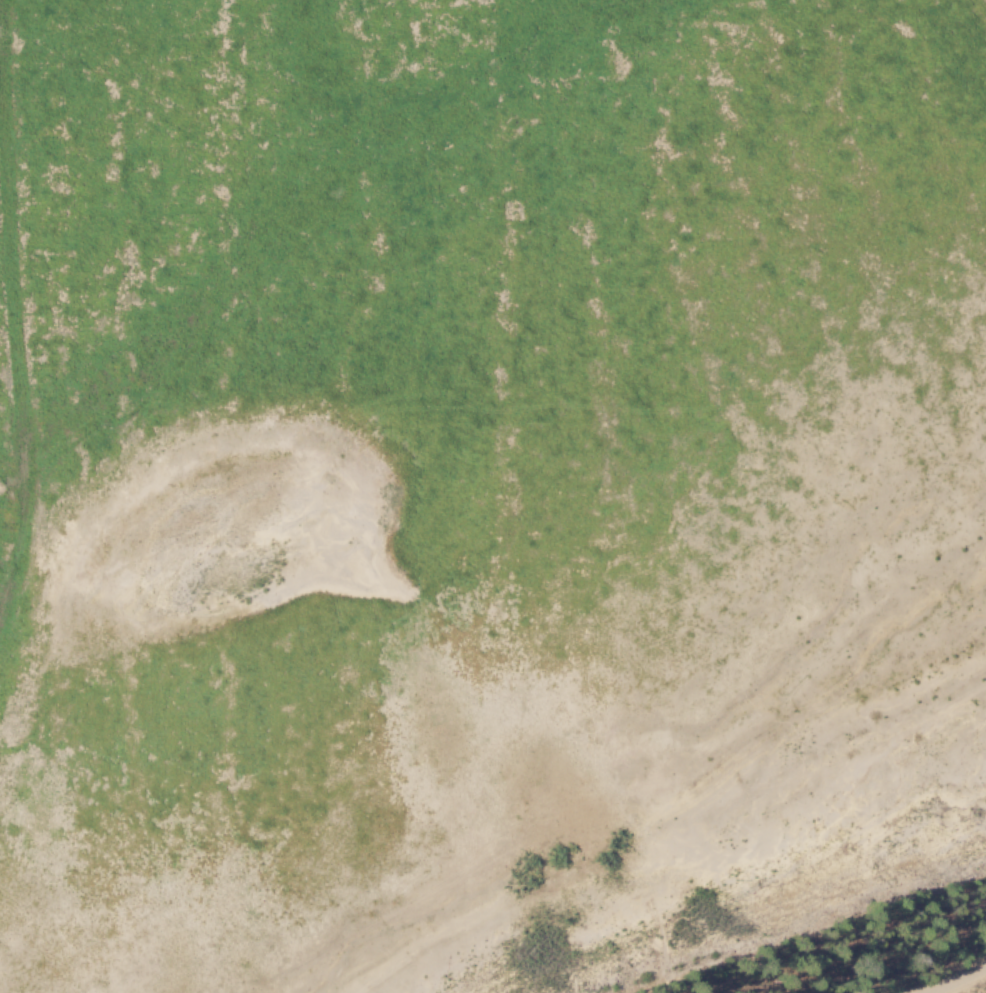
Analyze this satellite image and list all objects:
road: (957, 980)
road: (934, 992)

